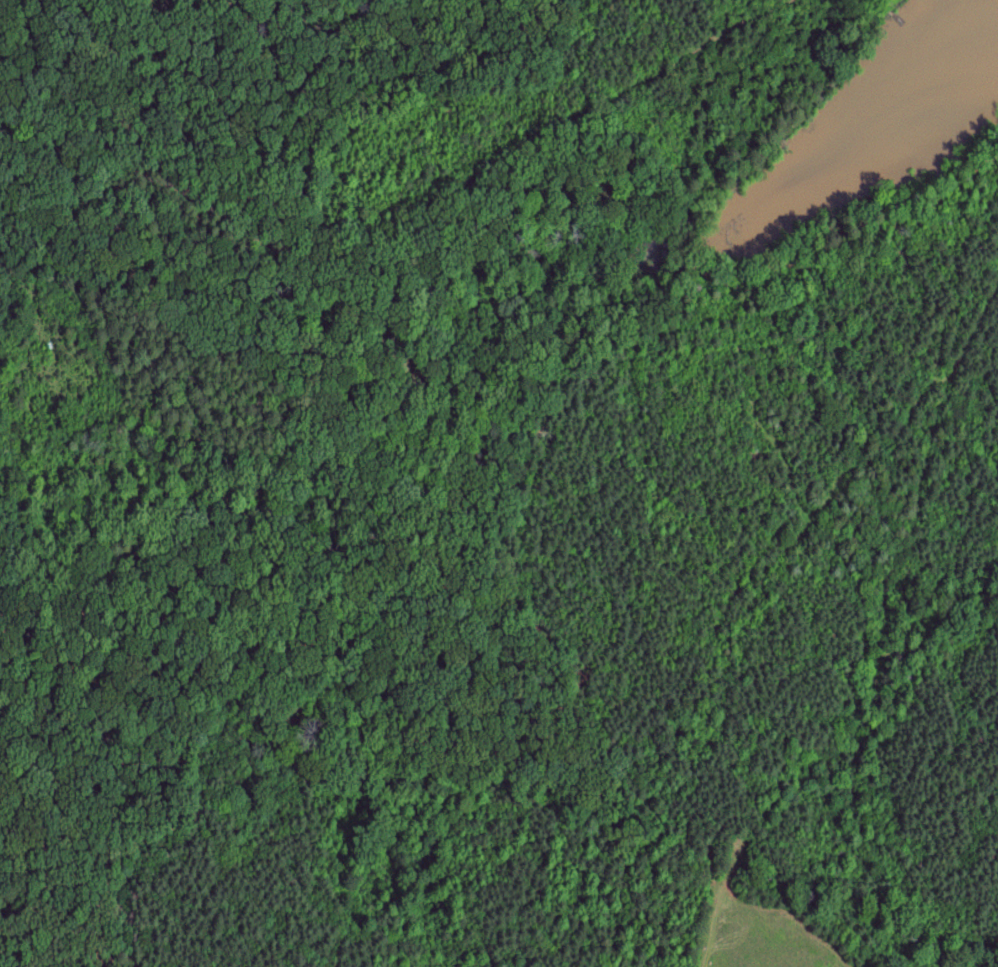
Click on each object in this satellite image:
road: (341, 167)

